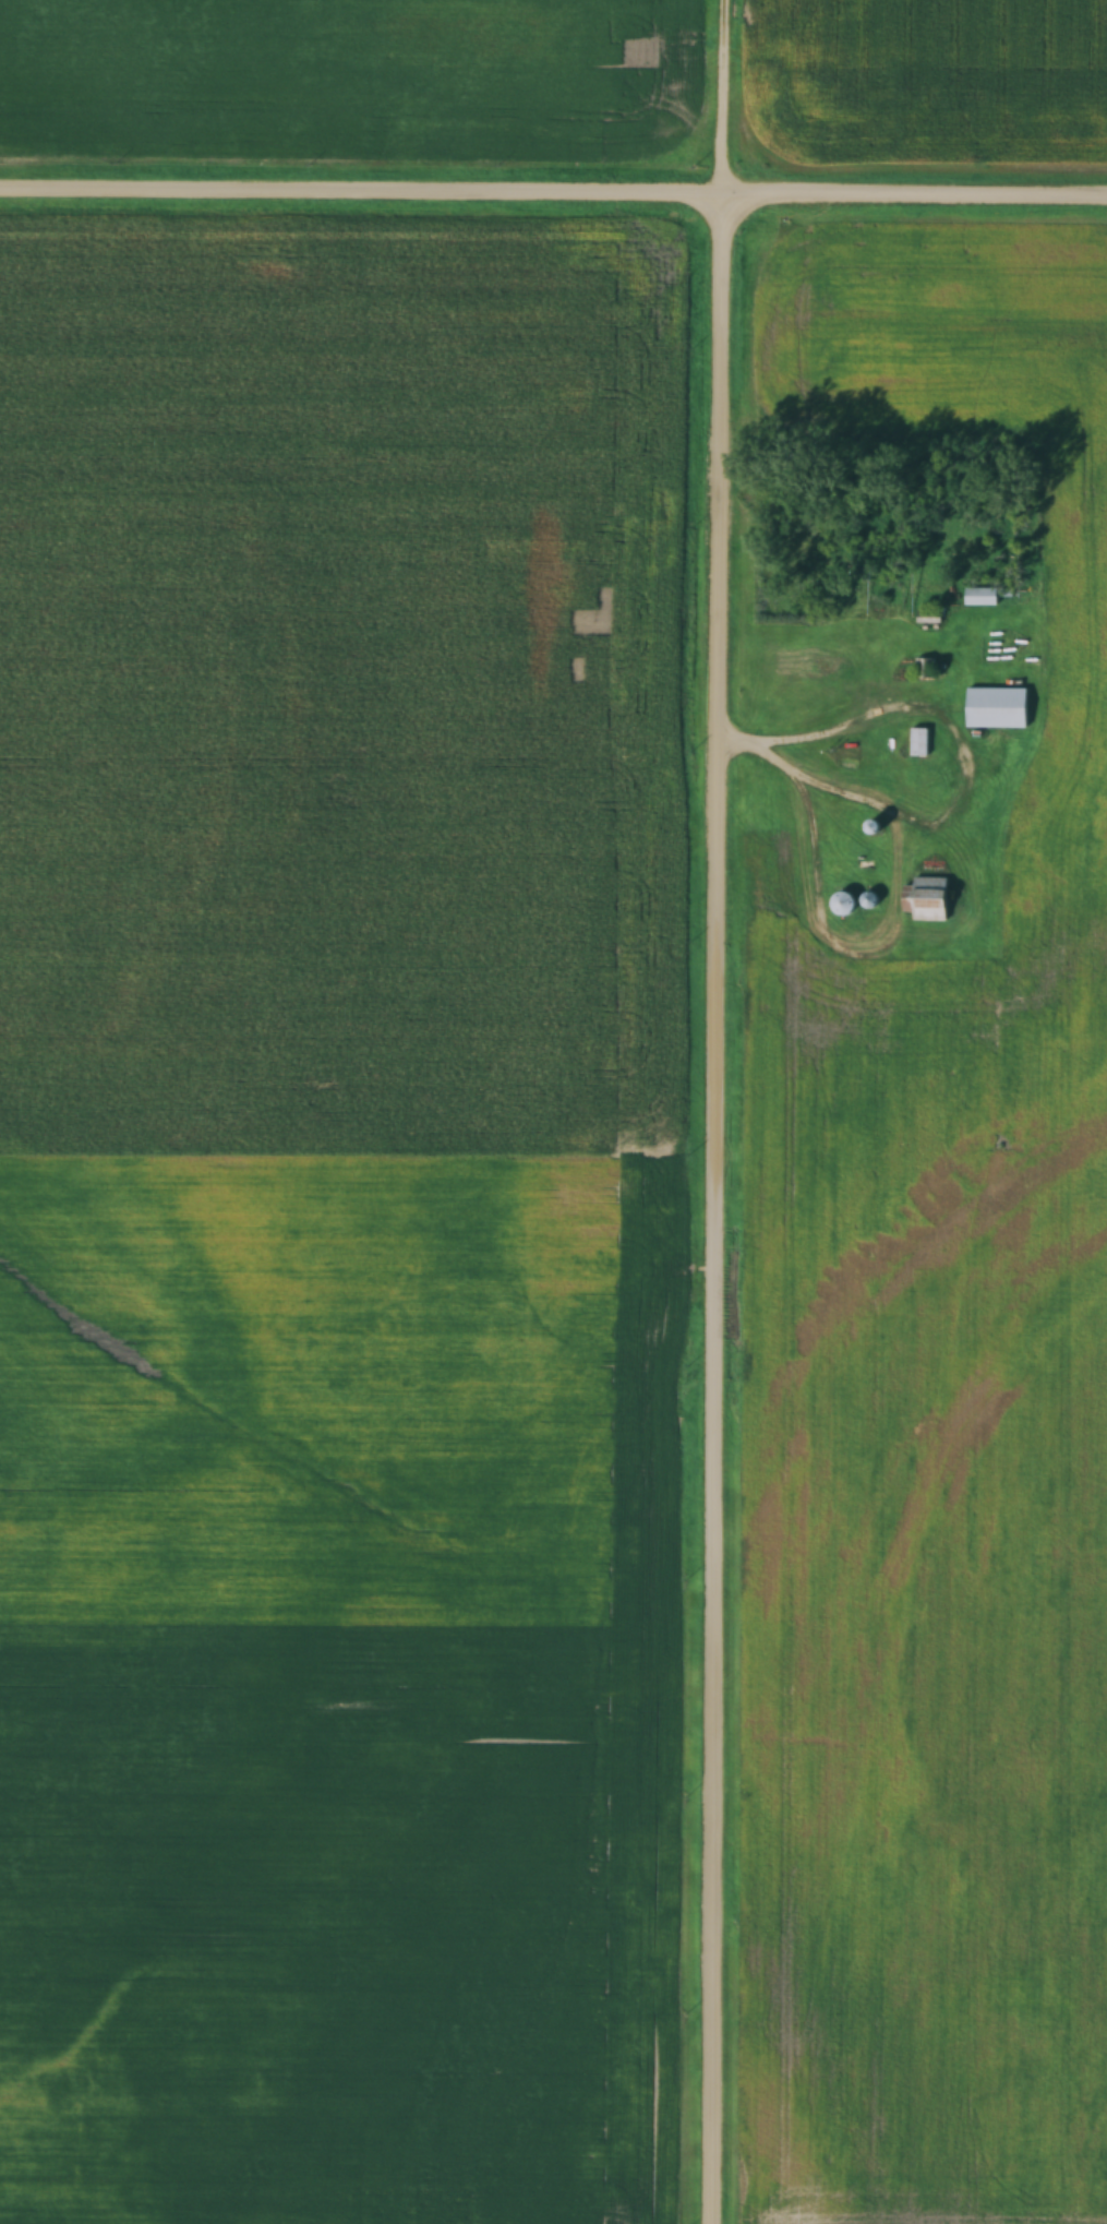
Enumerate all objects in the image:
road: (553, 194)
building: (982, 597)
building: (928, 617)
building: (924, 668)
building: (998, 708)
building: (919, 742)
building: (928, 900)
building: (845, 905)
building: (877, 924)
road: (720, 1112)

